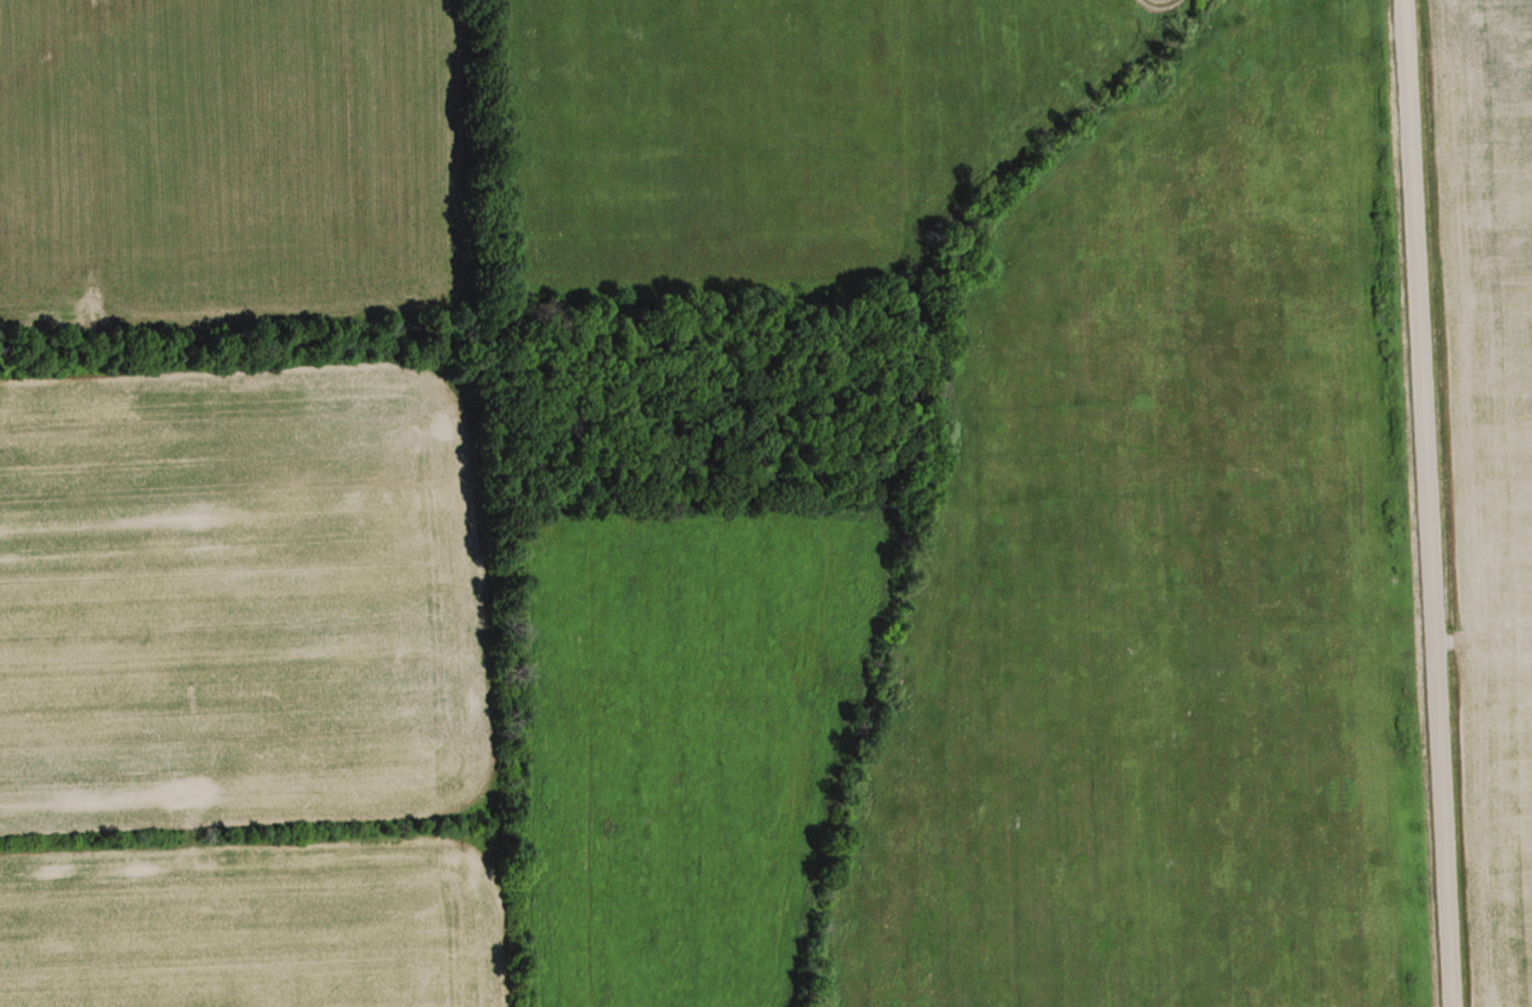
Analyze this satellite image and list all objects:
road: (1422, 503)

